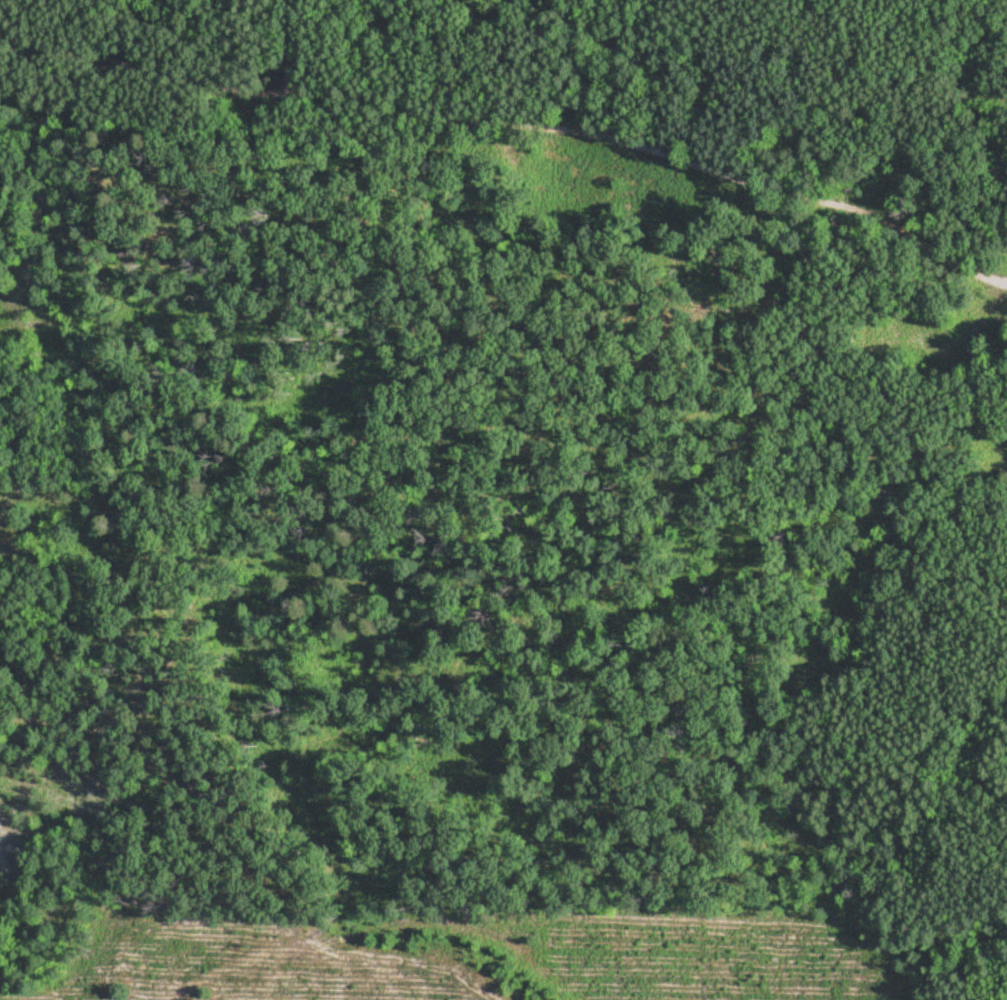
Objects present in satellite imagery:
road: (186, 78)
road: (657, 151)

